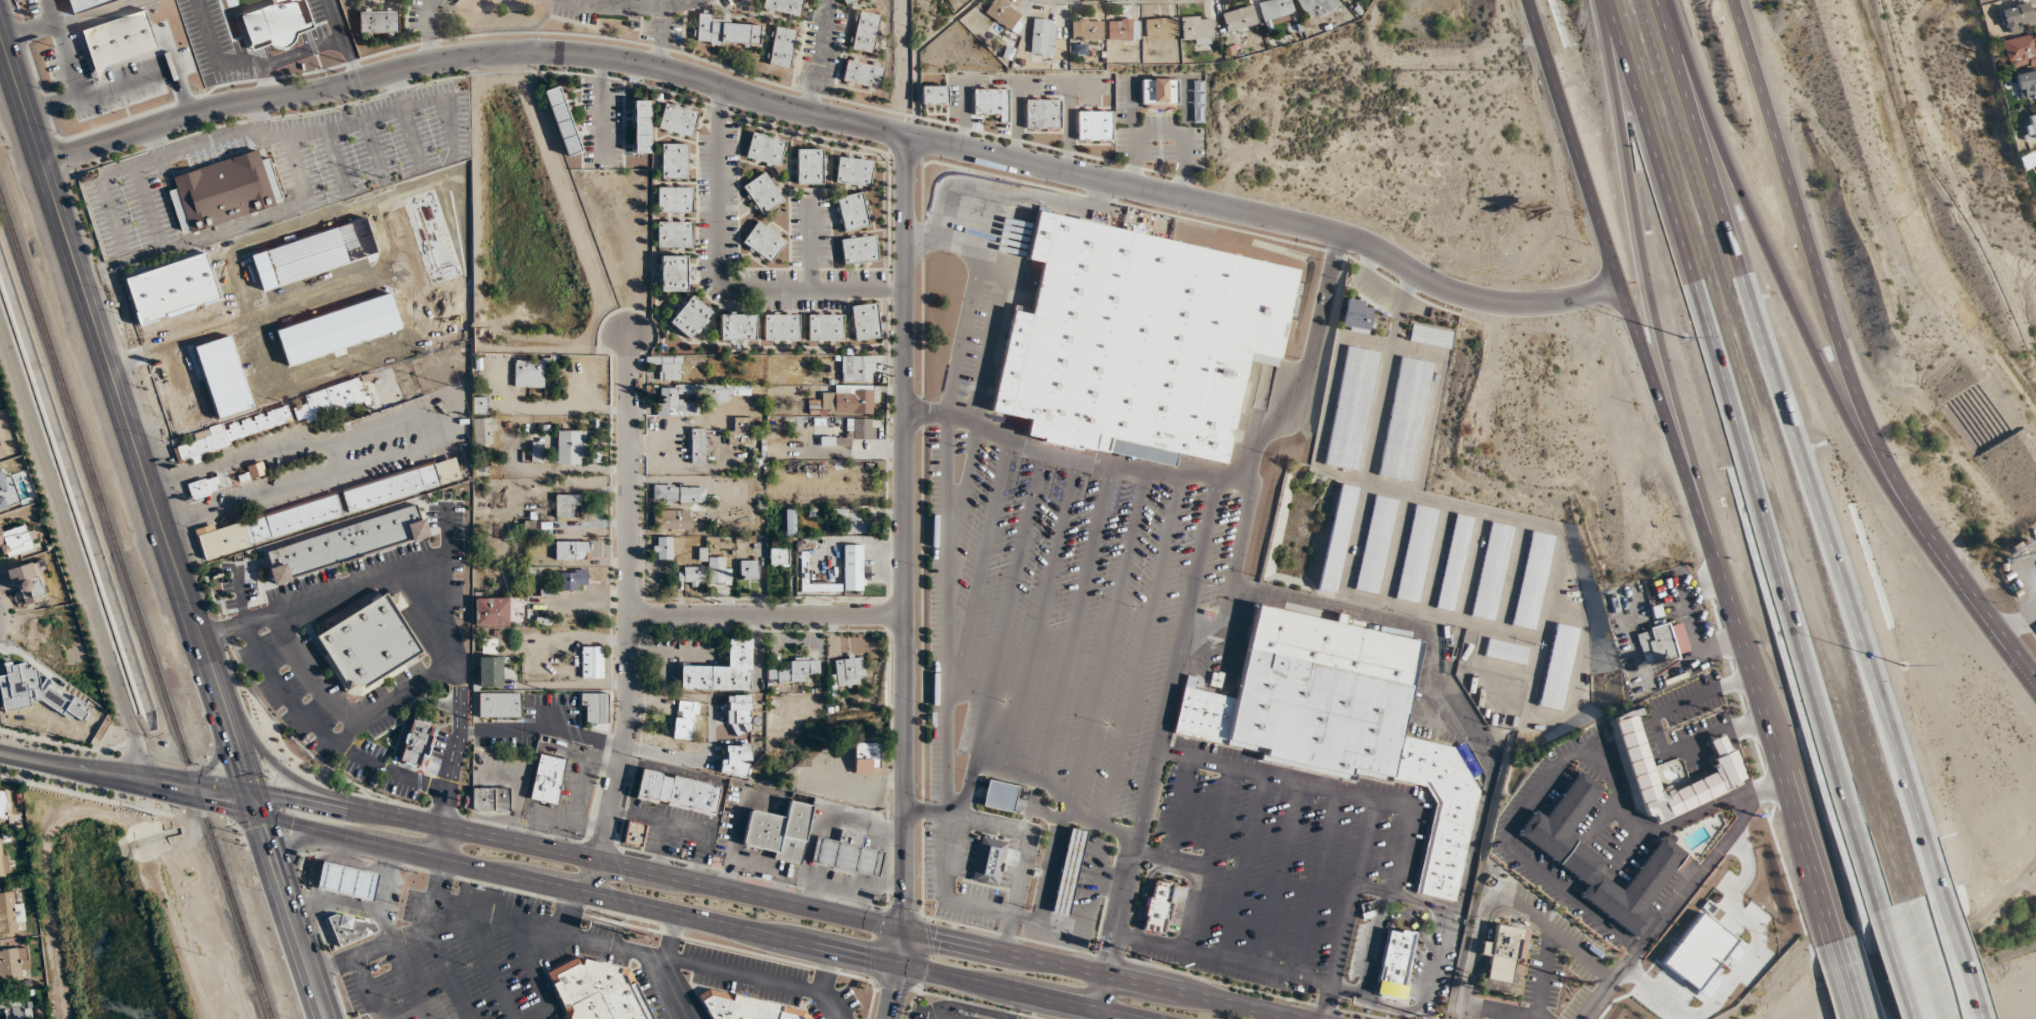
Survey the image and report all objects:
building: (849, 1)
building: (86, 4)
building: (784, 6)
building: (1317, 6)
road: (628, 7)
building: (1276, 11)
building: (1007, 16)
building: (2016, 18)
building: (1239, 19)
building: (379, 22)
building: (275, 23)
building: (1161, 27)
road: (427, 29)
building: (1087, 29)
building: (1123, 29)
building: (1198, 29)
building: (865, 32)
building: (727, 33)
road: (660, 37)
building: (1042, 37)
building: (119, 43)
road: (1672, 45)
building: (782, 47)
road: (310, 52)
building: (2020, 52)
road: (474, 54)
road: (819, 55)
road: (1626, 58)
building: (863, 74)
building: (2026, 85)
building: (1159, 91)
building: (934, 95)
road: (21, 97)
building: (990, 103)
building: (1043, 114)
building: (562, 121)
building: (677, 121)
building: (1095, 126)
building: (641, 127)
building: (2030, 128)
building: (765, 150)
building: (673, 161)
building: (2027, 161)
building: (810, 167)
building: (853, 171)
building: (224, 191)
building: (763, 193)
road: (1016, 196)
building: (674, 200)
building: (852, 212)
road: (1269, 216)
road: (1804, 226)
building: (674, 235)
road: (943, 238)
building: (327, 240)
building: (763, 242)
road: (809, 246)
building: (859, 250)
building: (249, 265)
building: (672, 273)
road: (1777, 273)
road: (717, 277)
building: (172, 289)
road: (1621, 296)
building: (1356, 315)
building: (689, 317)
building: (865, 323)
building: (737, 327)
building: (825, 327)
building: (781, 328)
building: (1431, 337)
building: (1137, 342)
building: (286, 344)
road: (1672, 355)
road: (1306, 366)
building: (667, 367)
building: (858, 369)
building: (529, 373)
building: (717, 397)
building: (851, 400)
building: (330, 401)
building: (479, 405)
building: (1350, 408)
building: (1405, 419)
road: (127, 421)
building: (860, 429)
building: (237, 431)
building: (484, 431)
building: (741, 432)
building: (697, 445)
building: (571, 448)
building: (537, 452)
building: (1, 454)
road: (1070, 455)
building: (256, 471)
road: (304, 477)
building: (204, 488)
building: (391, 488)
building: (679, 493)
road: (1812, 497)
building: (566, 506)
building: (295, 518)
road: (1766, 518)
building: (672, 520)
building: (853, 520)
building: (790, 522)
road: (945, 530)
building: (222, 539)
building: (1336, 539)
building: (17, 542)
building: (345, 544)
building: (1375, 545)
road: (74, 548)
building: (662, 548)
building: (572, 550)
road: (905, 550)
building: (1416, 554)
building: (779, 557)
building: (1454, 564)
building: (852, 567)
road: (1955, 569)
building: (749, 570)
building: (718, 571)
building: (1492, 572)
building: (691, 576)
railway: (125, 578)
building: (573, 580)
building: (1533, 581)
building: (30, 583)
road: (428, 583)
parking lot: (1063, 597)
building: (492, 612)
road: (768, 614)
road: (629, 615)
building: (1662, 643)
building: (489, 646)
building: (370, 650)
building: (1506, 653)
building: (592, 662)
road: (1442, 668)
building: (1558, 668)
building: (794, 671)
building: (721, 672)
building: (848, 672)
building: (490, 673)
building: (514, 677)
building: (81, 681)
building: (499, 705)
building: (590, 707)
building: (738, 714)
road: (1655, 717)
building: (686, 721)
building: (1341, 722)
road: (1160, 726)
road: (242, 728)
road: (233, 739)
building: (416, 741)
road: (1737, 749)
building: (1637, 757)
building: (866, 758)
building: (736, 760)
road: (1777, 771)
road: (126, 775)
building: (548, 779)
road: (579, 789)
building: (678, 791)
road: (1536, 794)
road: (328, 795)
building: (999, 796)
traffic signals: (254, 799)
building: (490, 799)
road: (316, 806)
building: (3, 808)
road: (537, 811)
road: (286, 815)
road: (1641, 821)
building: (778, 833)
road: (1028, 834)
building: (634, 835)
road: (268, 842)
road: (447, 844)
road: (381, 845)
road: (288, 850)
building: (846, 855)
gas station: (846, 855)
building: (3, 857)
building: (1599, 859)
building: (988, 862)
building: (1068, 872)
gas station: (1068, 872)
building: (348, 881)
building: (0, 882)
road: (950, 891)
road: (1567, 892)
road: (1681, 895)
road: (1505, 897)
traffic signals: (907, 906)
road: (367, 909)
building: (1157, 909)
road: (1349, 909)
road: (671, 912)
road: (1420, 912)
road: (836, 913)
building: (10, 914)
road: (433, 915)
road: (522, 921)
road: (1416, 927)
building: (349, 928)
road: (1083, 928)
road: (671, 937)
traffic signals: (941, 937)
road: (612, 948)
road: (304, 952)
road: (367, 952)
road: (1956, 955)
traffic signals: (861, 956)
building: (1501, 958)
road: (487, 961)
building: (13, 964)
road: (1236, 964)
building: (1395, 966)
road: (1747, 966)
road: (534, 969)
road: (1904, 969)
road: (830, 972)
road: (1542, 973)
road: (448, 974)
road: (759, 981)
road: (409, 982)
road: (1843, 986)
road: (367, 988)
railway: (261, 989)
road: (678, 990)
building: (599, 991)
road: (896, 992)
road: (1017, 992)
road: (1099, 992)
traffic signals: (896, 994)
road: (1388, 1005)
building: (14, 1008)
building: (746, 1008)
road: (1428, 1011)
road: (1498, 1011)
road: (1974, 1013)
road: (1093, 1014)

